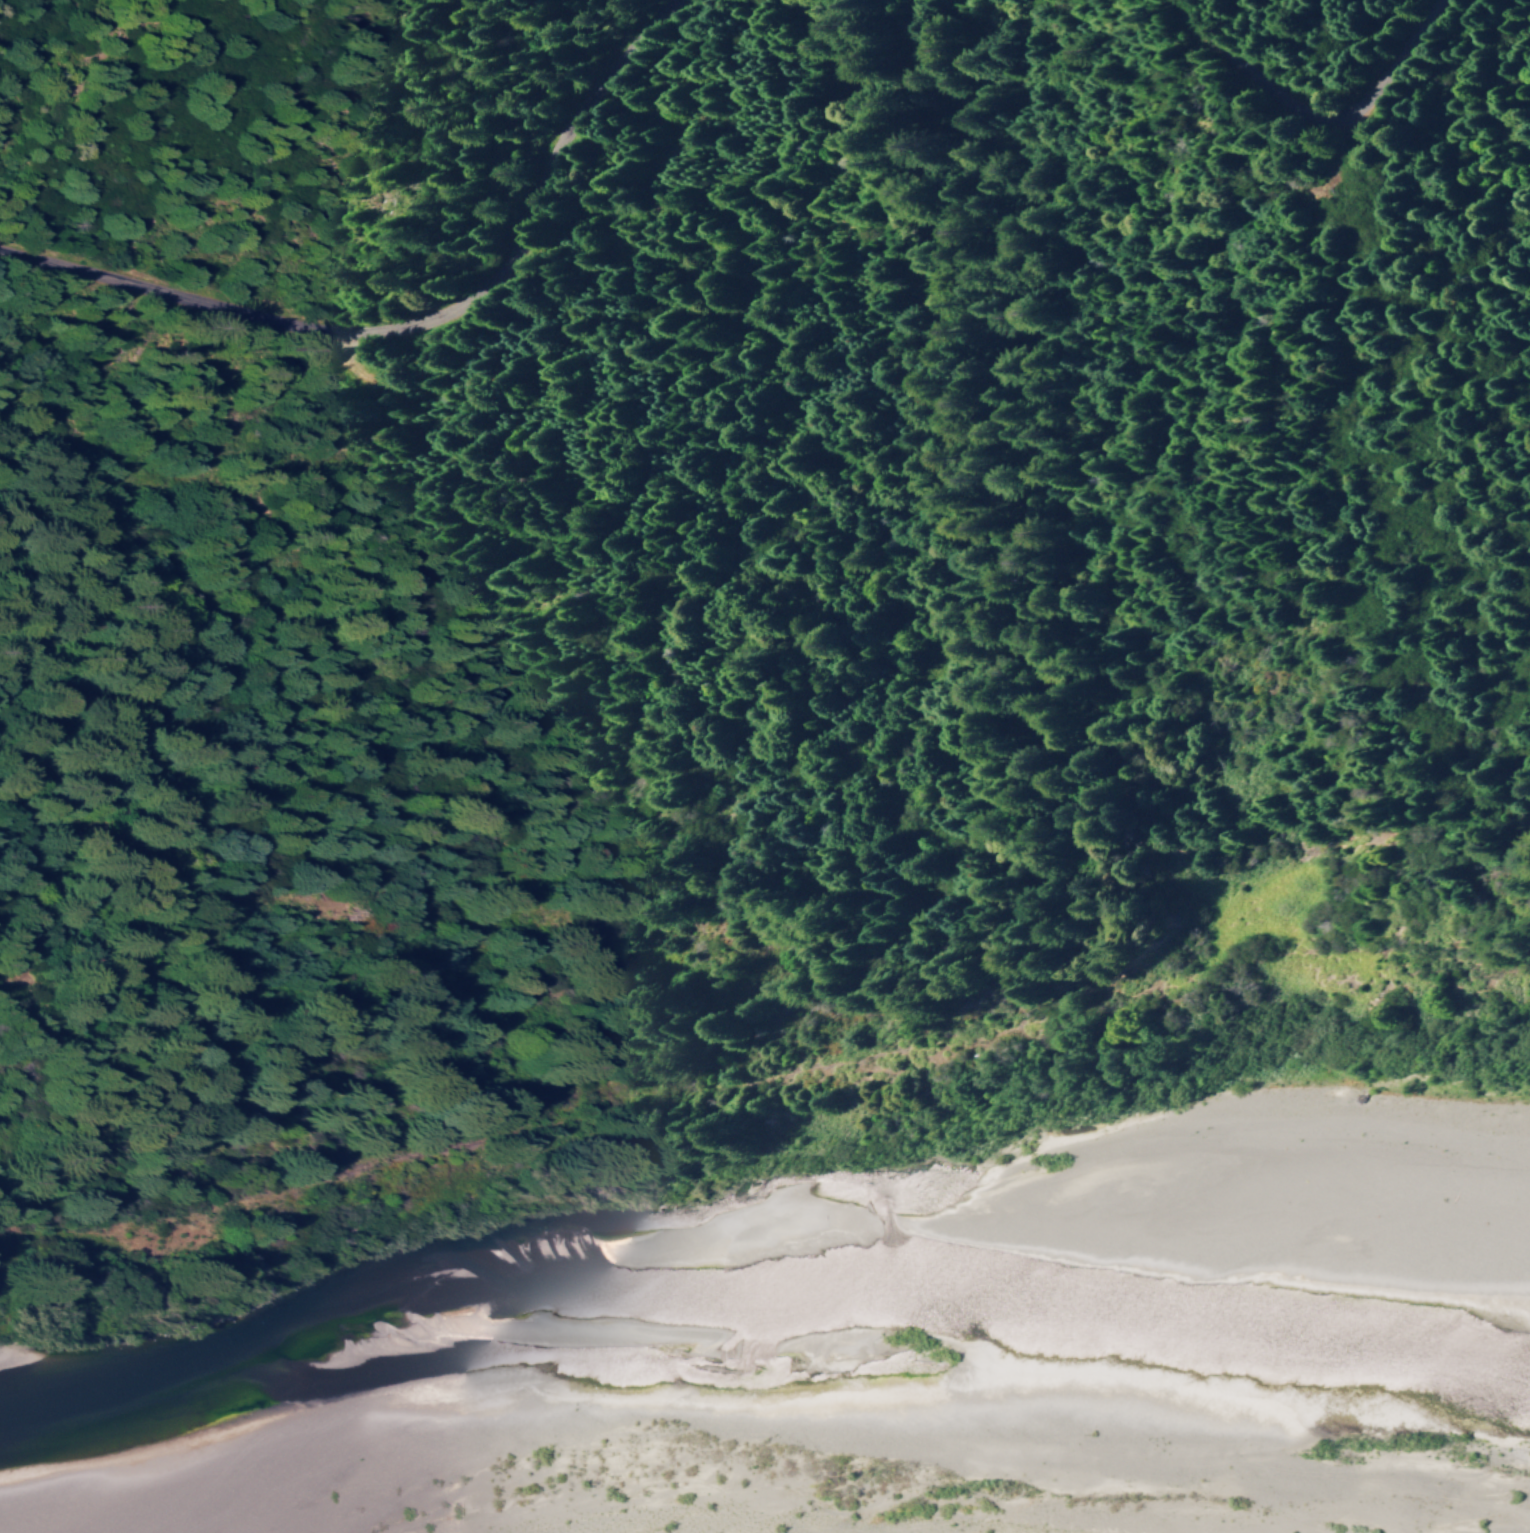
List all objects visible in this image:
road: (1292, 184)
road: (423, 329)
railway: (762, 1088)
river: (1378, 1129)
river: (646, 1342)

